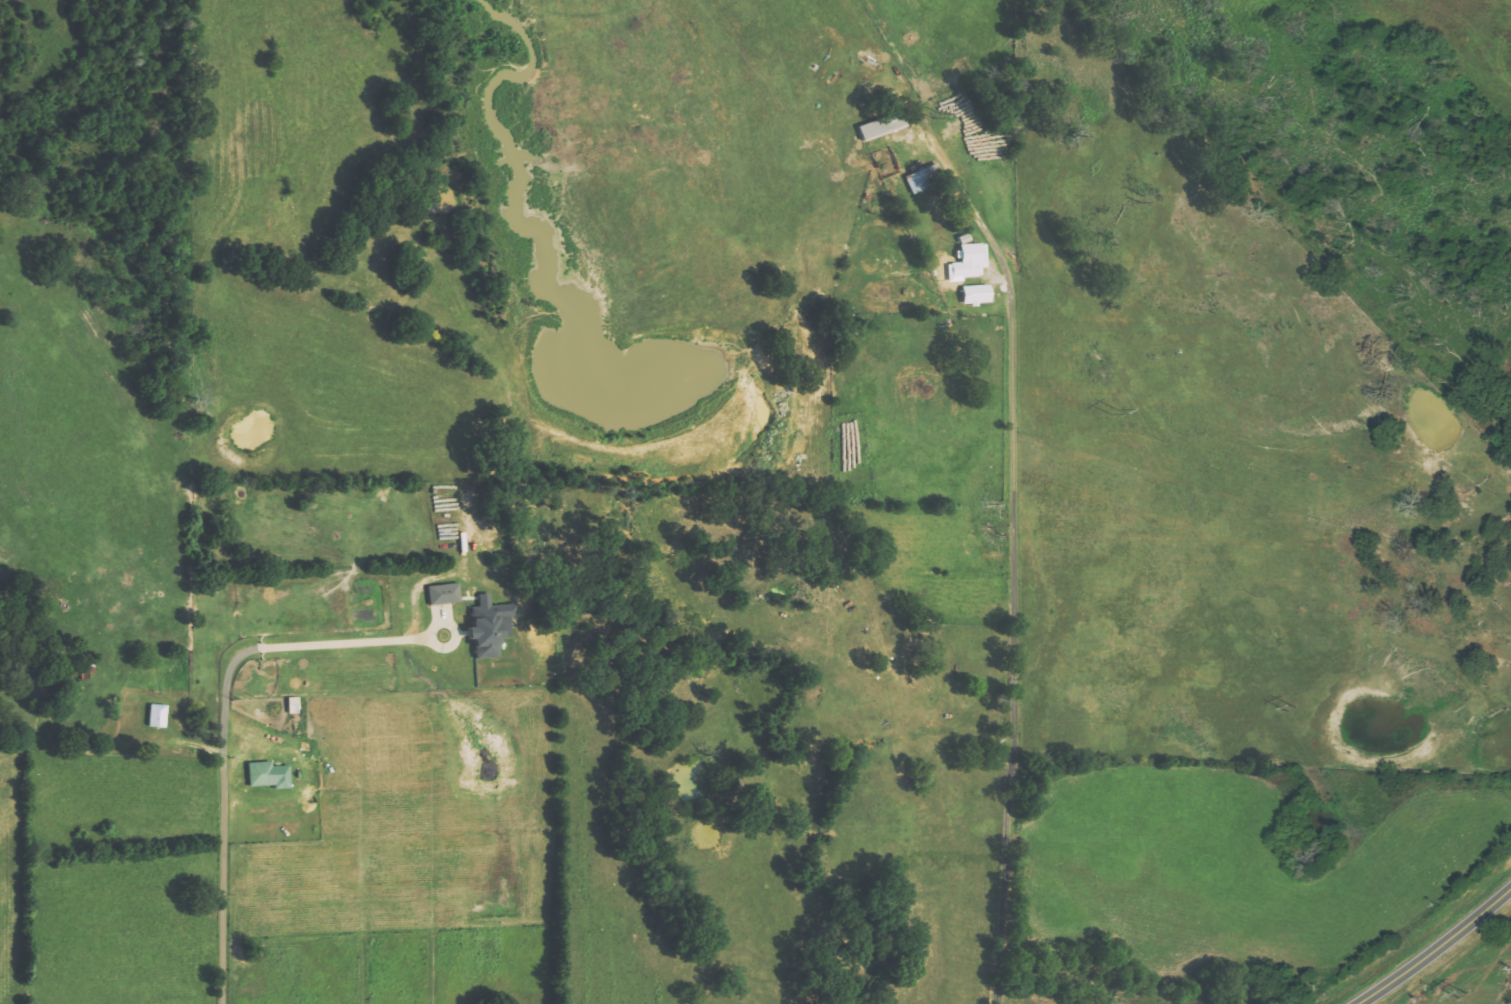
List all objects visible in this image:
building: (884, 126)
building: (924, 178)
building: (974, 259)
building: (979, 295)
building: (446, 594)
building: (493, 626)
road: (1014, 642)
building: (295, 706)
building: (159, 716)
building: (271, 775)
road: (227, 883)
road: (1437, 950)

